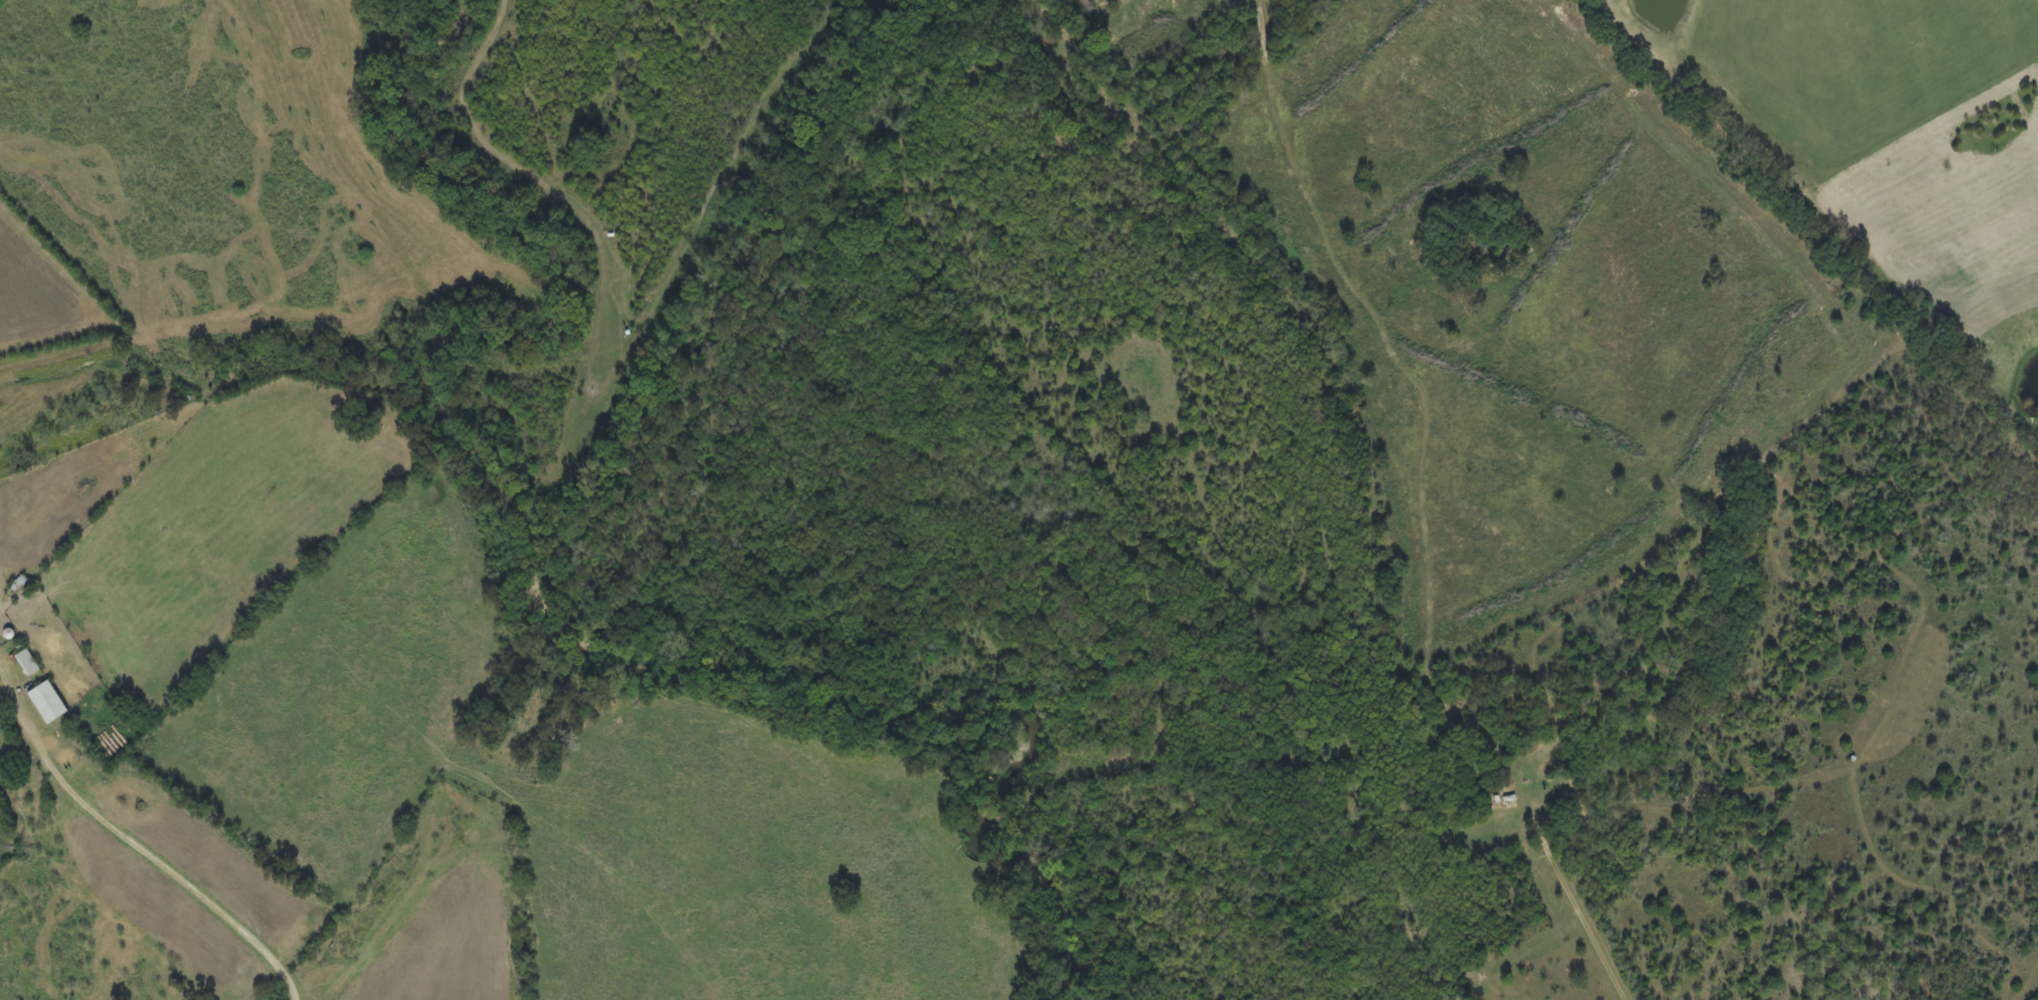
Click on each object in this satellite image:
railway: (673, 447)
building: (47, 704)
railway: (369, 943)

